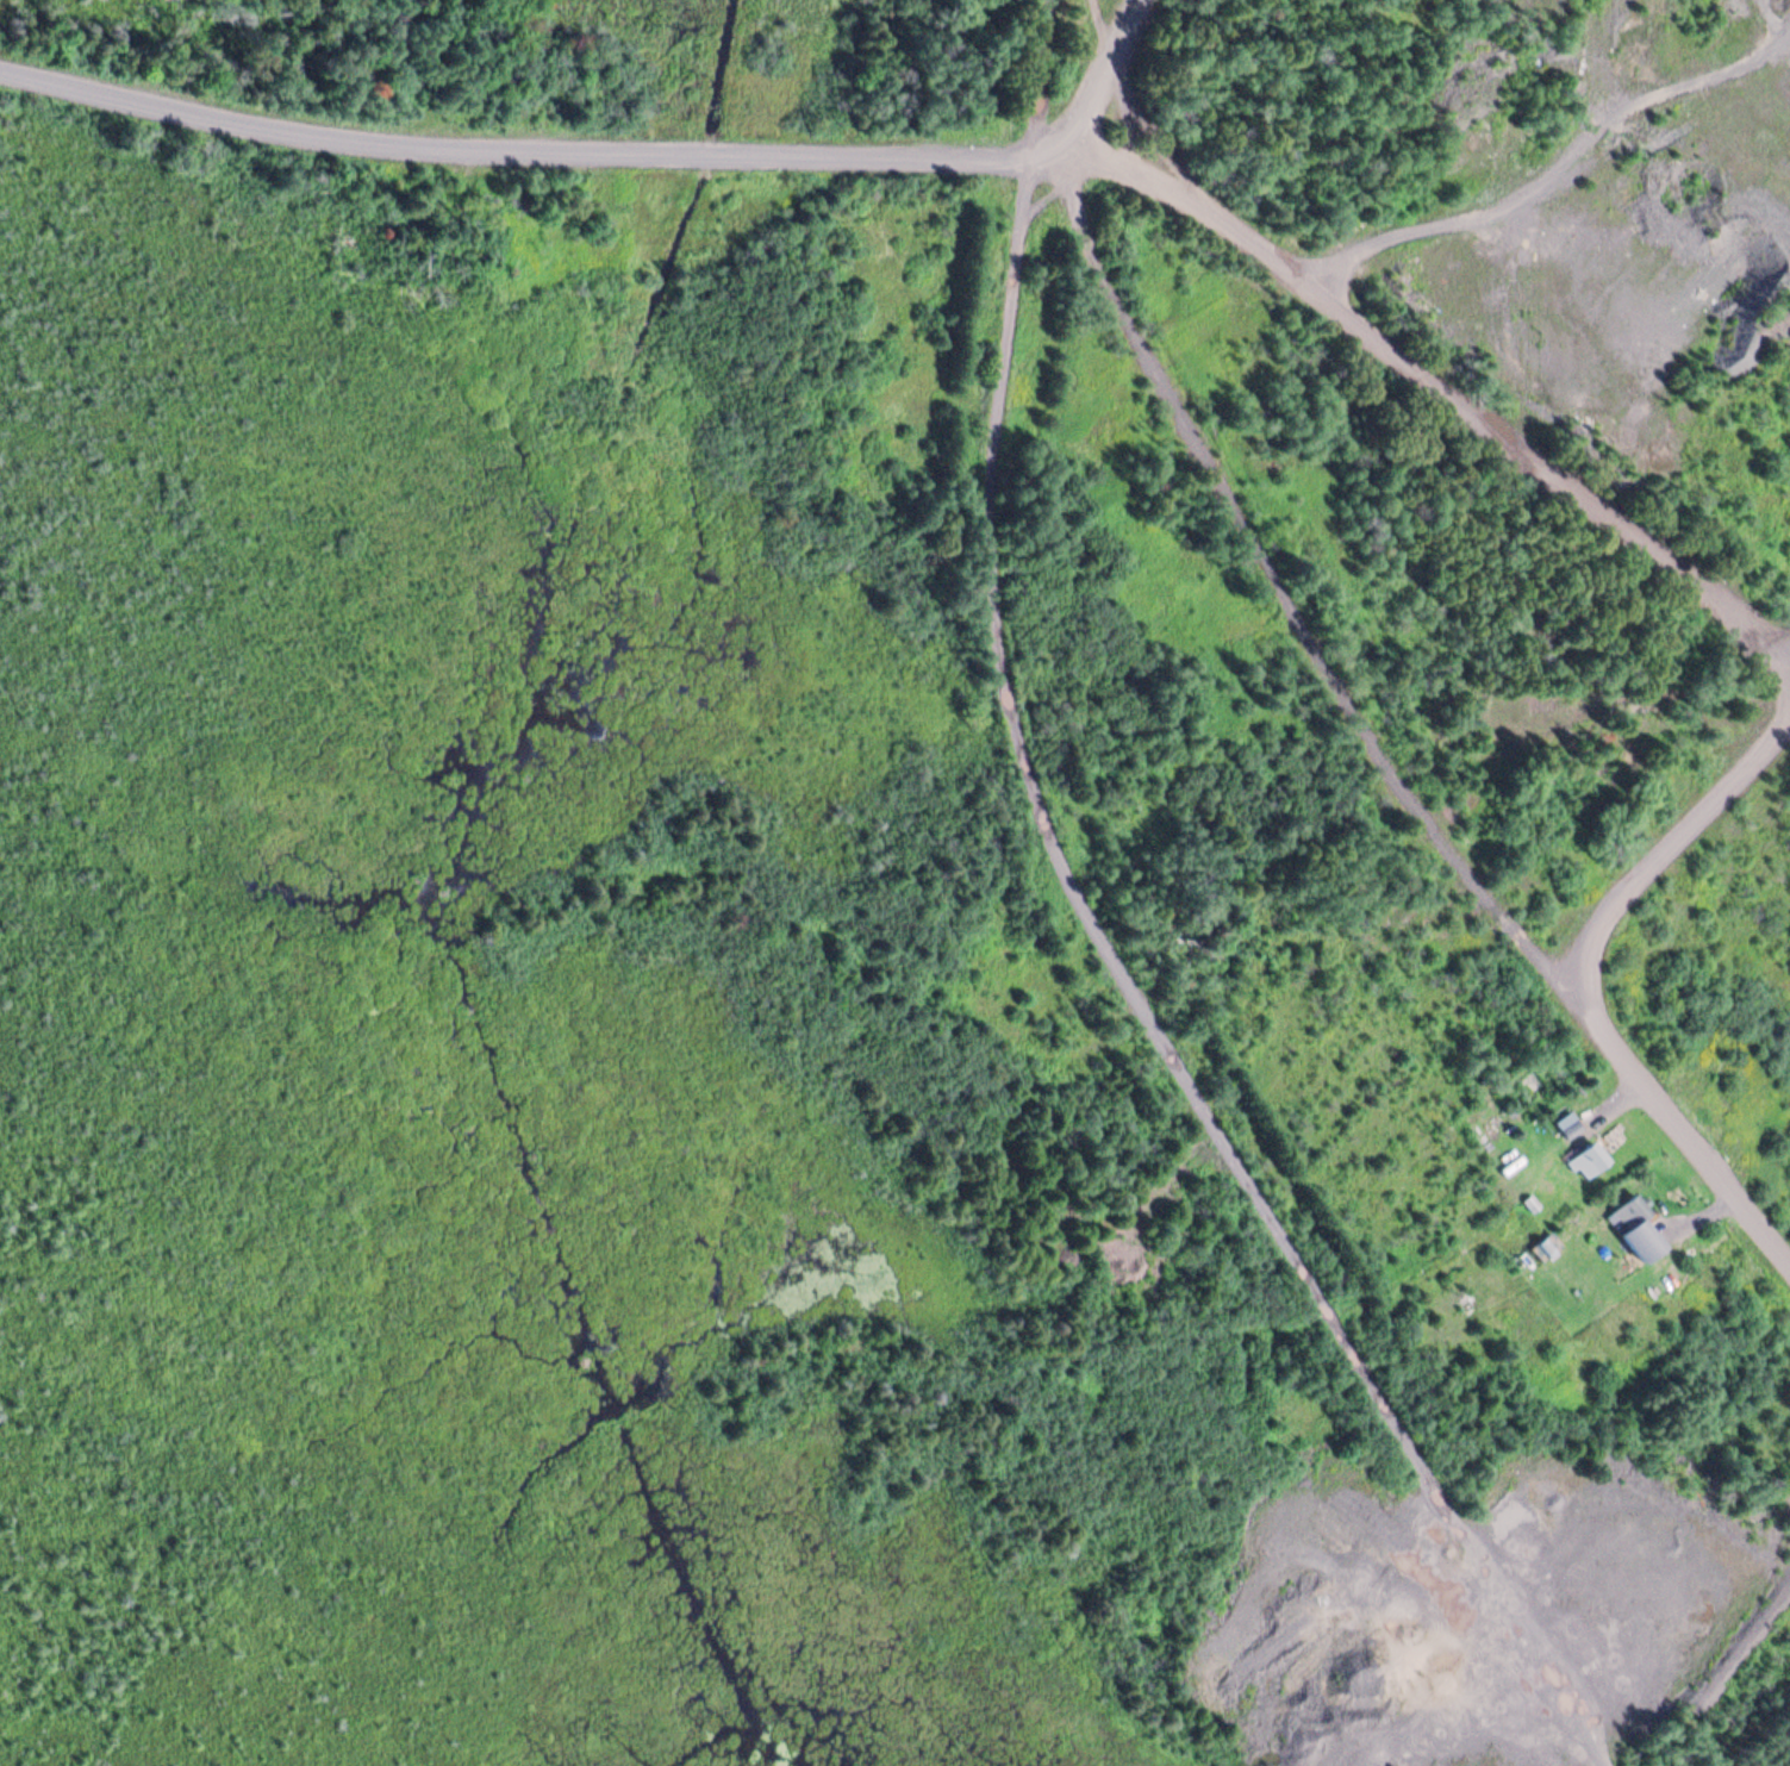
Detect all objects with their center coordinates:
road: (1094, 77)
road: (524, 144)
road: (1437, 377)
road: (1376, 742)
road: (1666, 844)
road: (1112, 941)
building: (1566, 1123)
building: (1586, 1159)
building: (1630, 1211)

